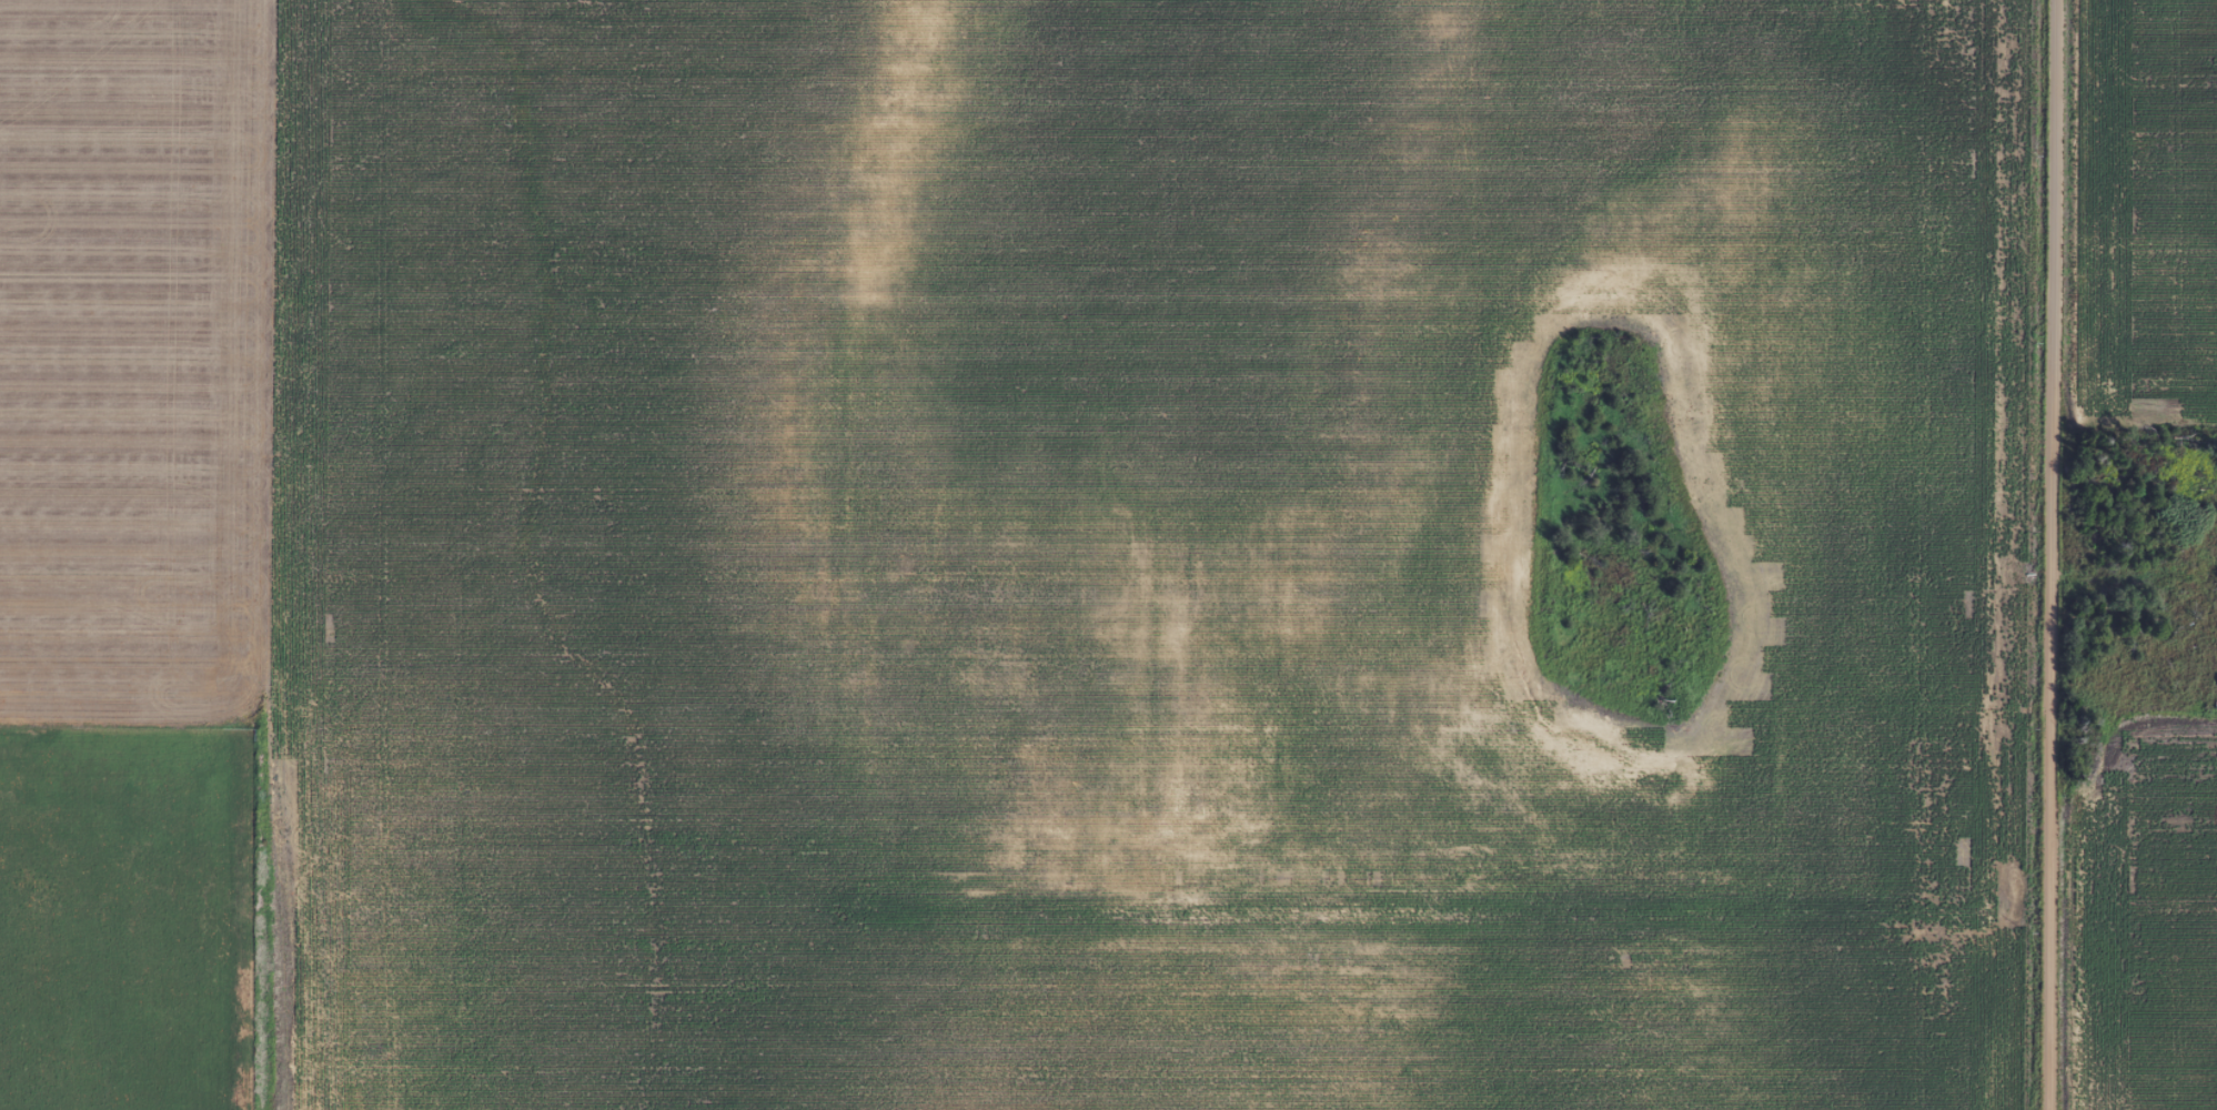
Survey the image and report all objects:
road: (2069, 555)

